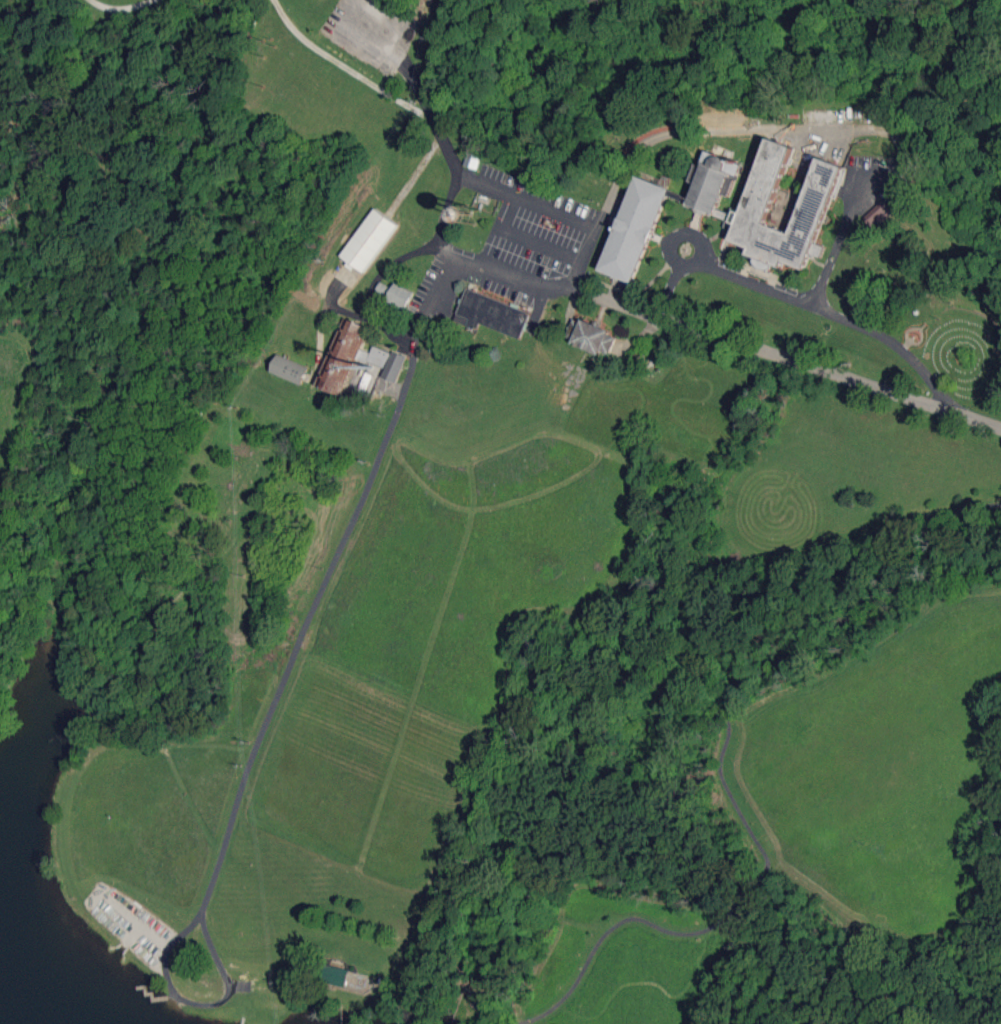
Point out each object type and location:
road: (115, 13)
road: (16, 16)
parking lot: (372, 29)
road: (401, 59)
road: (347, 67)
road: (50, 119)
road: (820, 129)
building: (473, 160)
building: (714, 184)
building: (819, 195)
road: (554, 213)
building: (878, 214)
building: (636, 229)
building: (369, 240)
road: (452, 254)
building: (396, 294)
road: (803, 299)
building: (491, 313)
building: (592, 336)
building: (348, 355)
road: (796, 360)
building: (394, 366)
building: (289, 369)
road: (22, 440)
road: (250, 506)
road: (14, 597)
road: (54, 609)
road: (160, 651)
road: (273, 706)
road: (729, 795)
road: (289, 895)
building: (335, 976)

